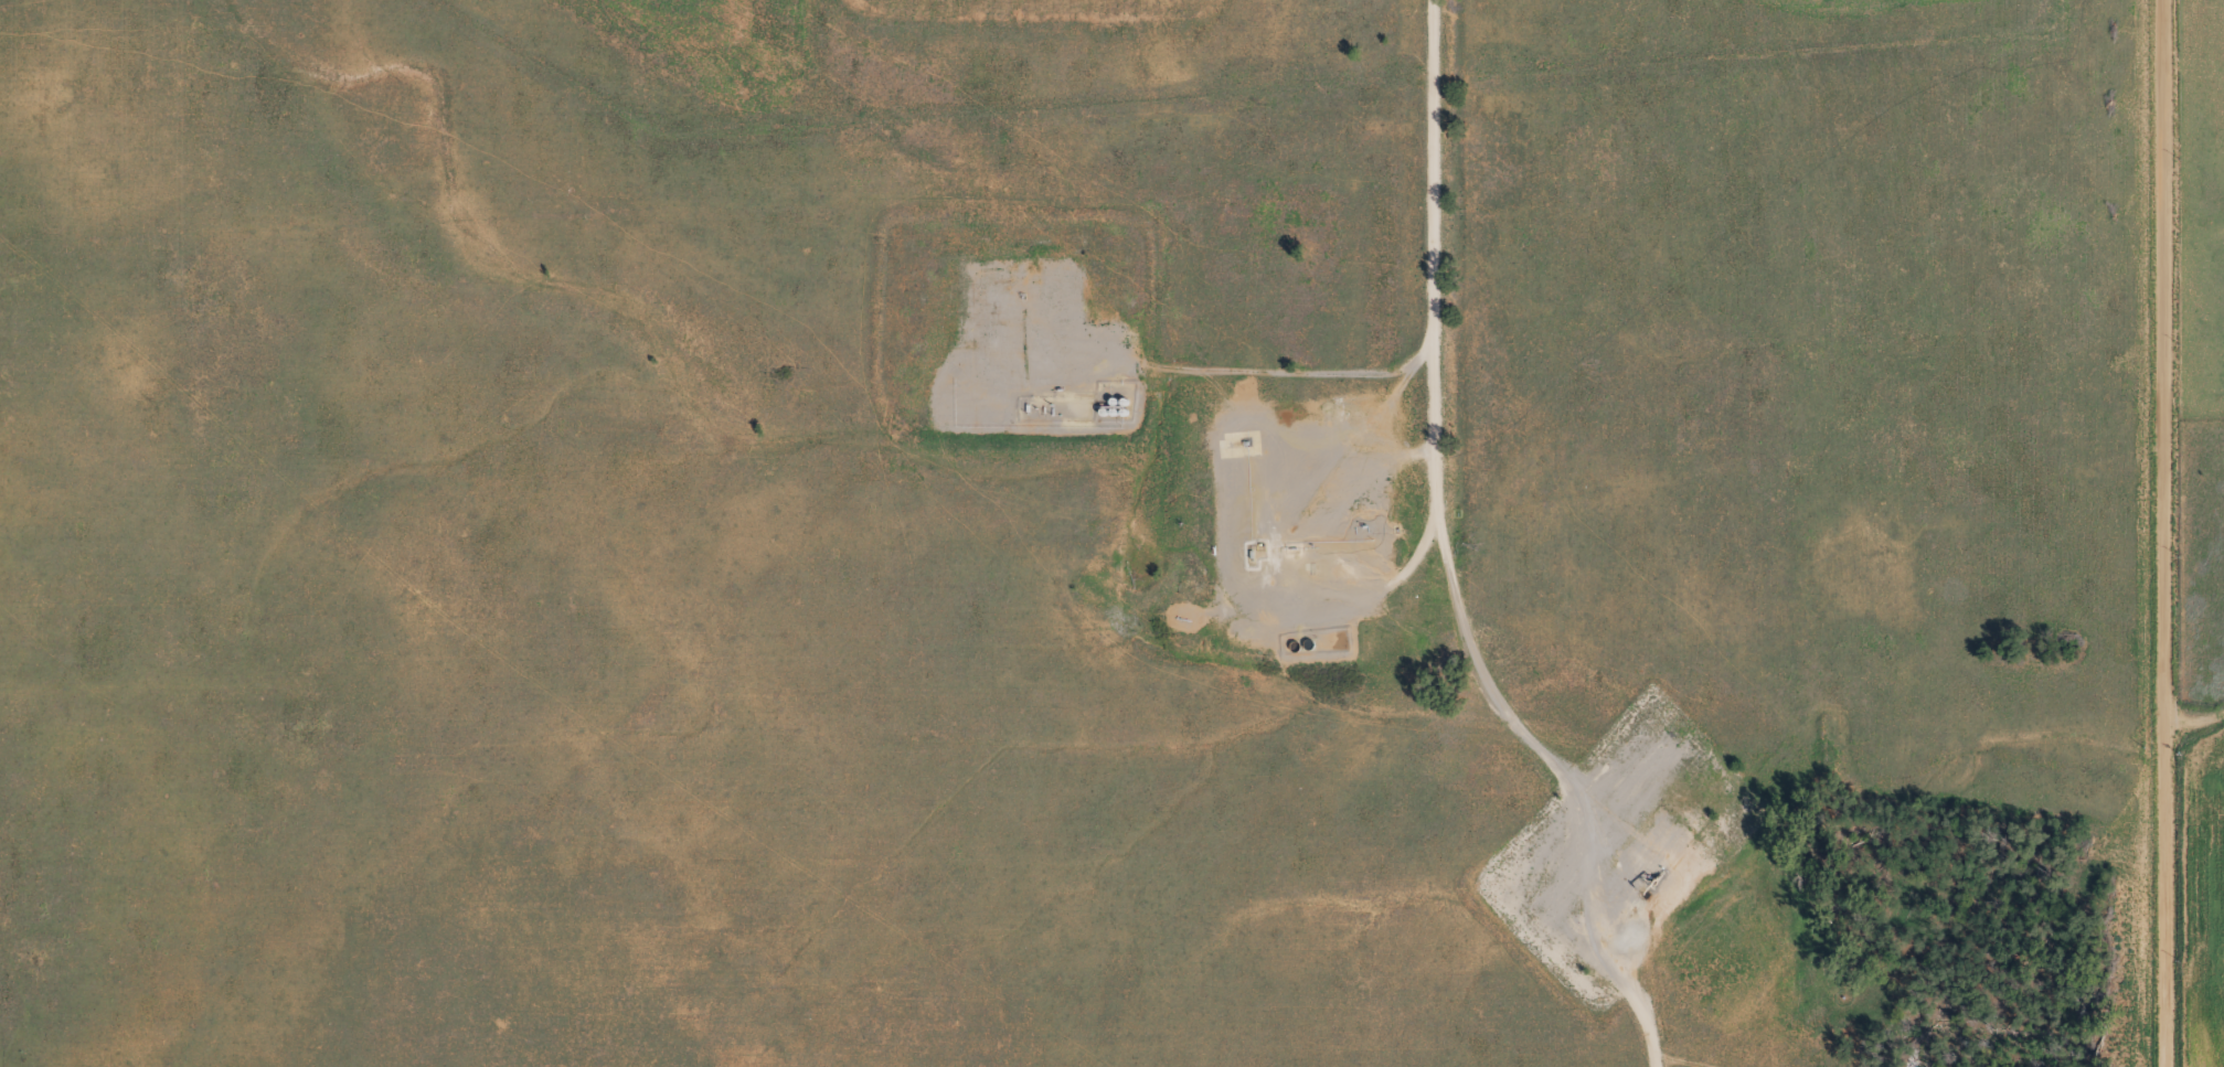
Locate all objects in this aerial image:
road: (2163, 533)

